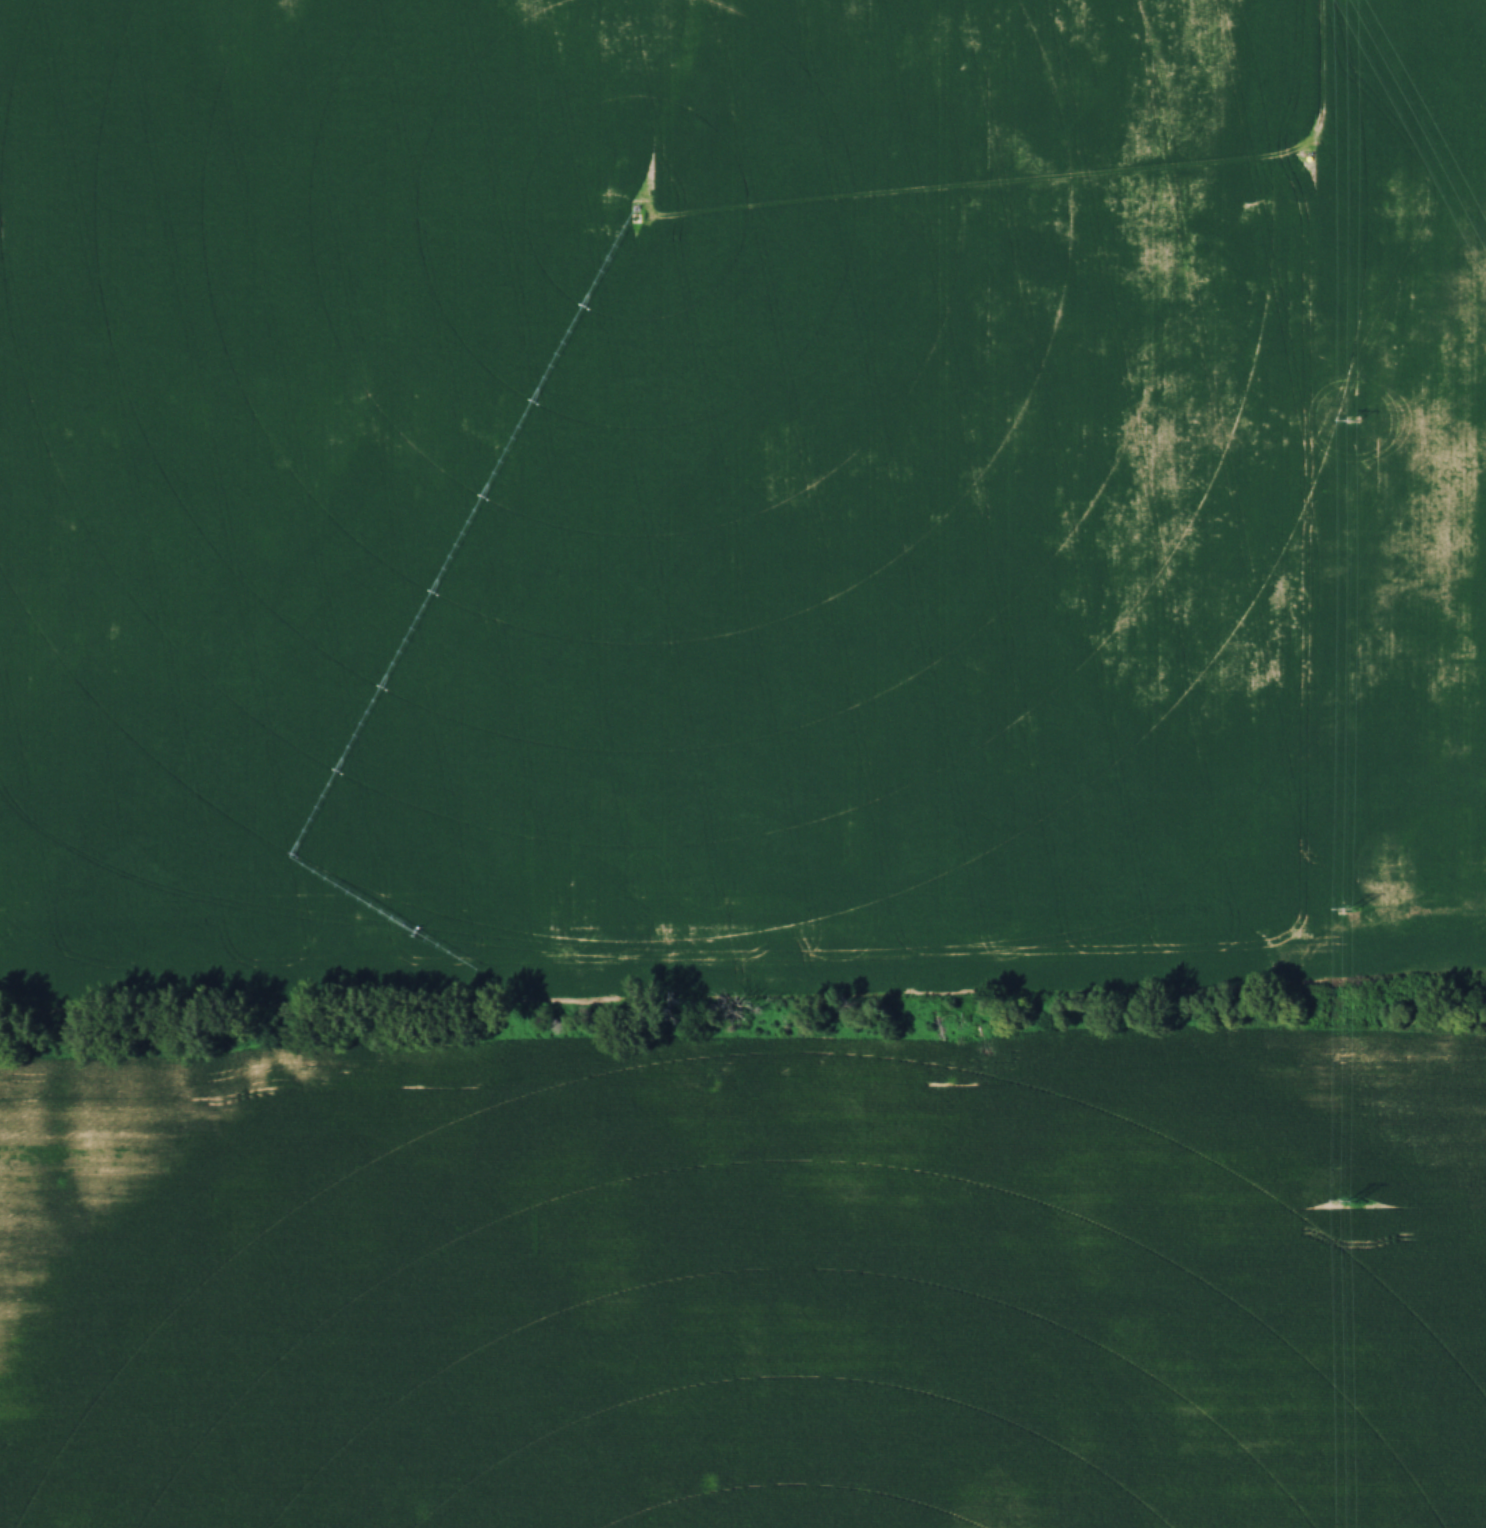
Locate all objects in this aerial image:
power tower: (1350, 422)
power tower: (1350, 911)
power tower: (1350, 1203)

